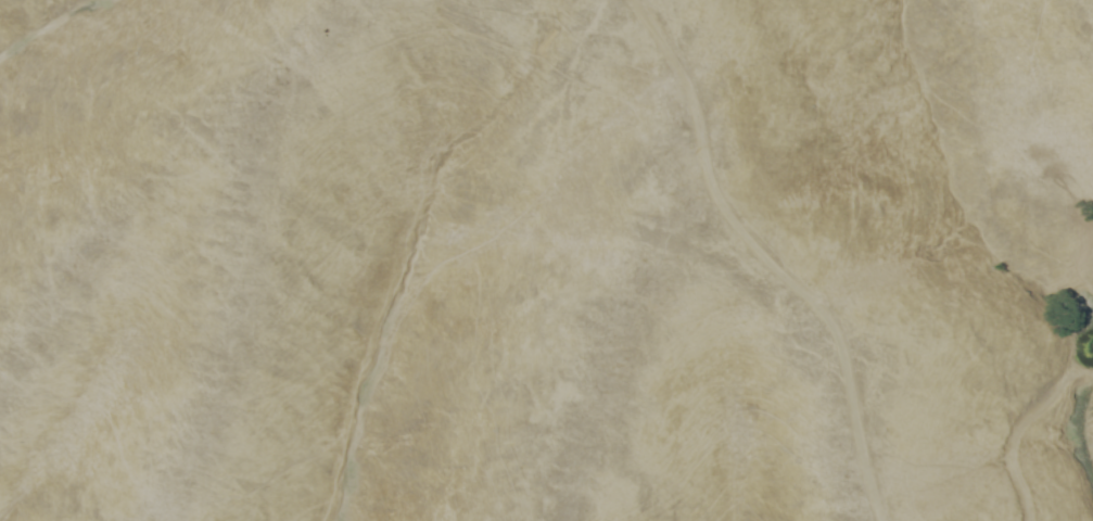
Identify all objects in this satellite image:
road: (765, 258)

